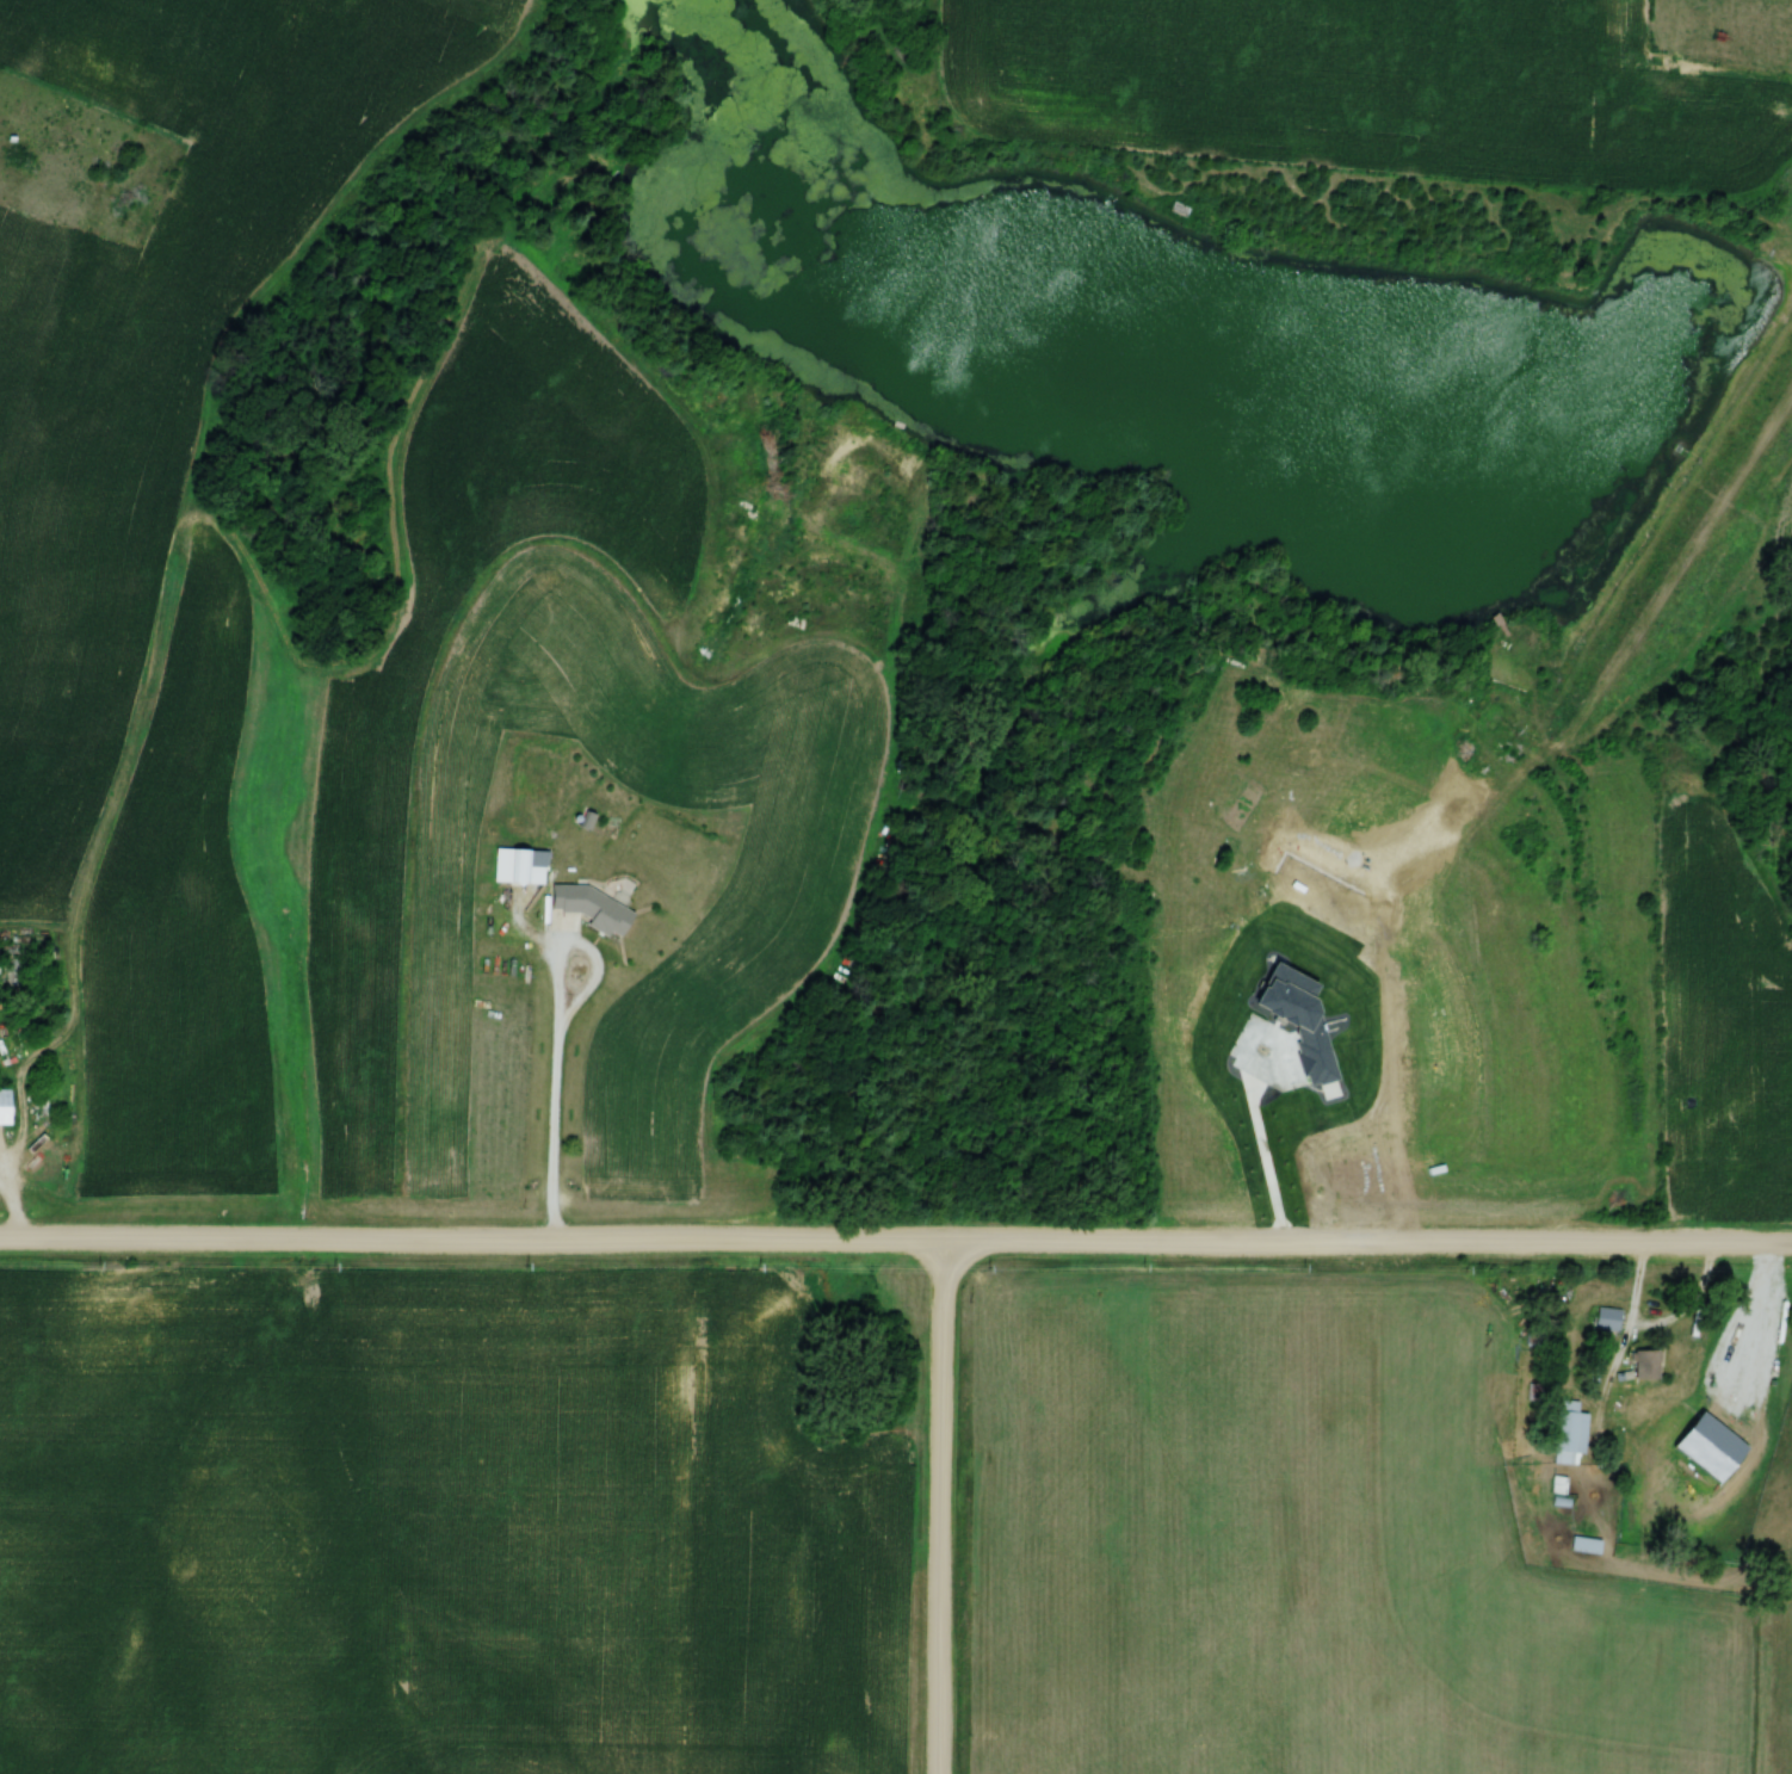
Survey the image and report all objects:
dam: (1661, 531)
building: (509, 866)
building: (589, 909)
road: (567, 953)
road: (554, 1130)
road: (6, 1211)
road: (896, 1242)
building: (1606, 1321)
road: (1658, 1328)
building: (1642, 1368)
building: (1568, 1433)
road: (939, 1508)
building: (1583, 1546)

